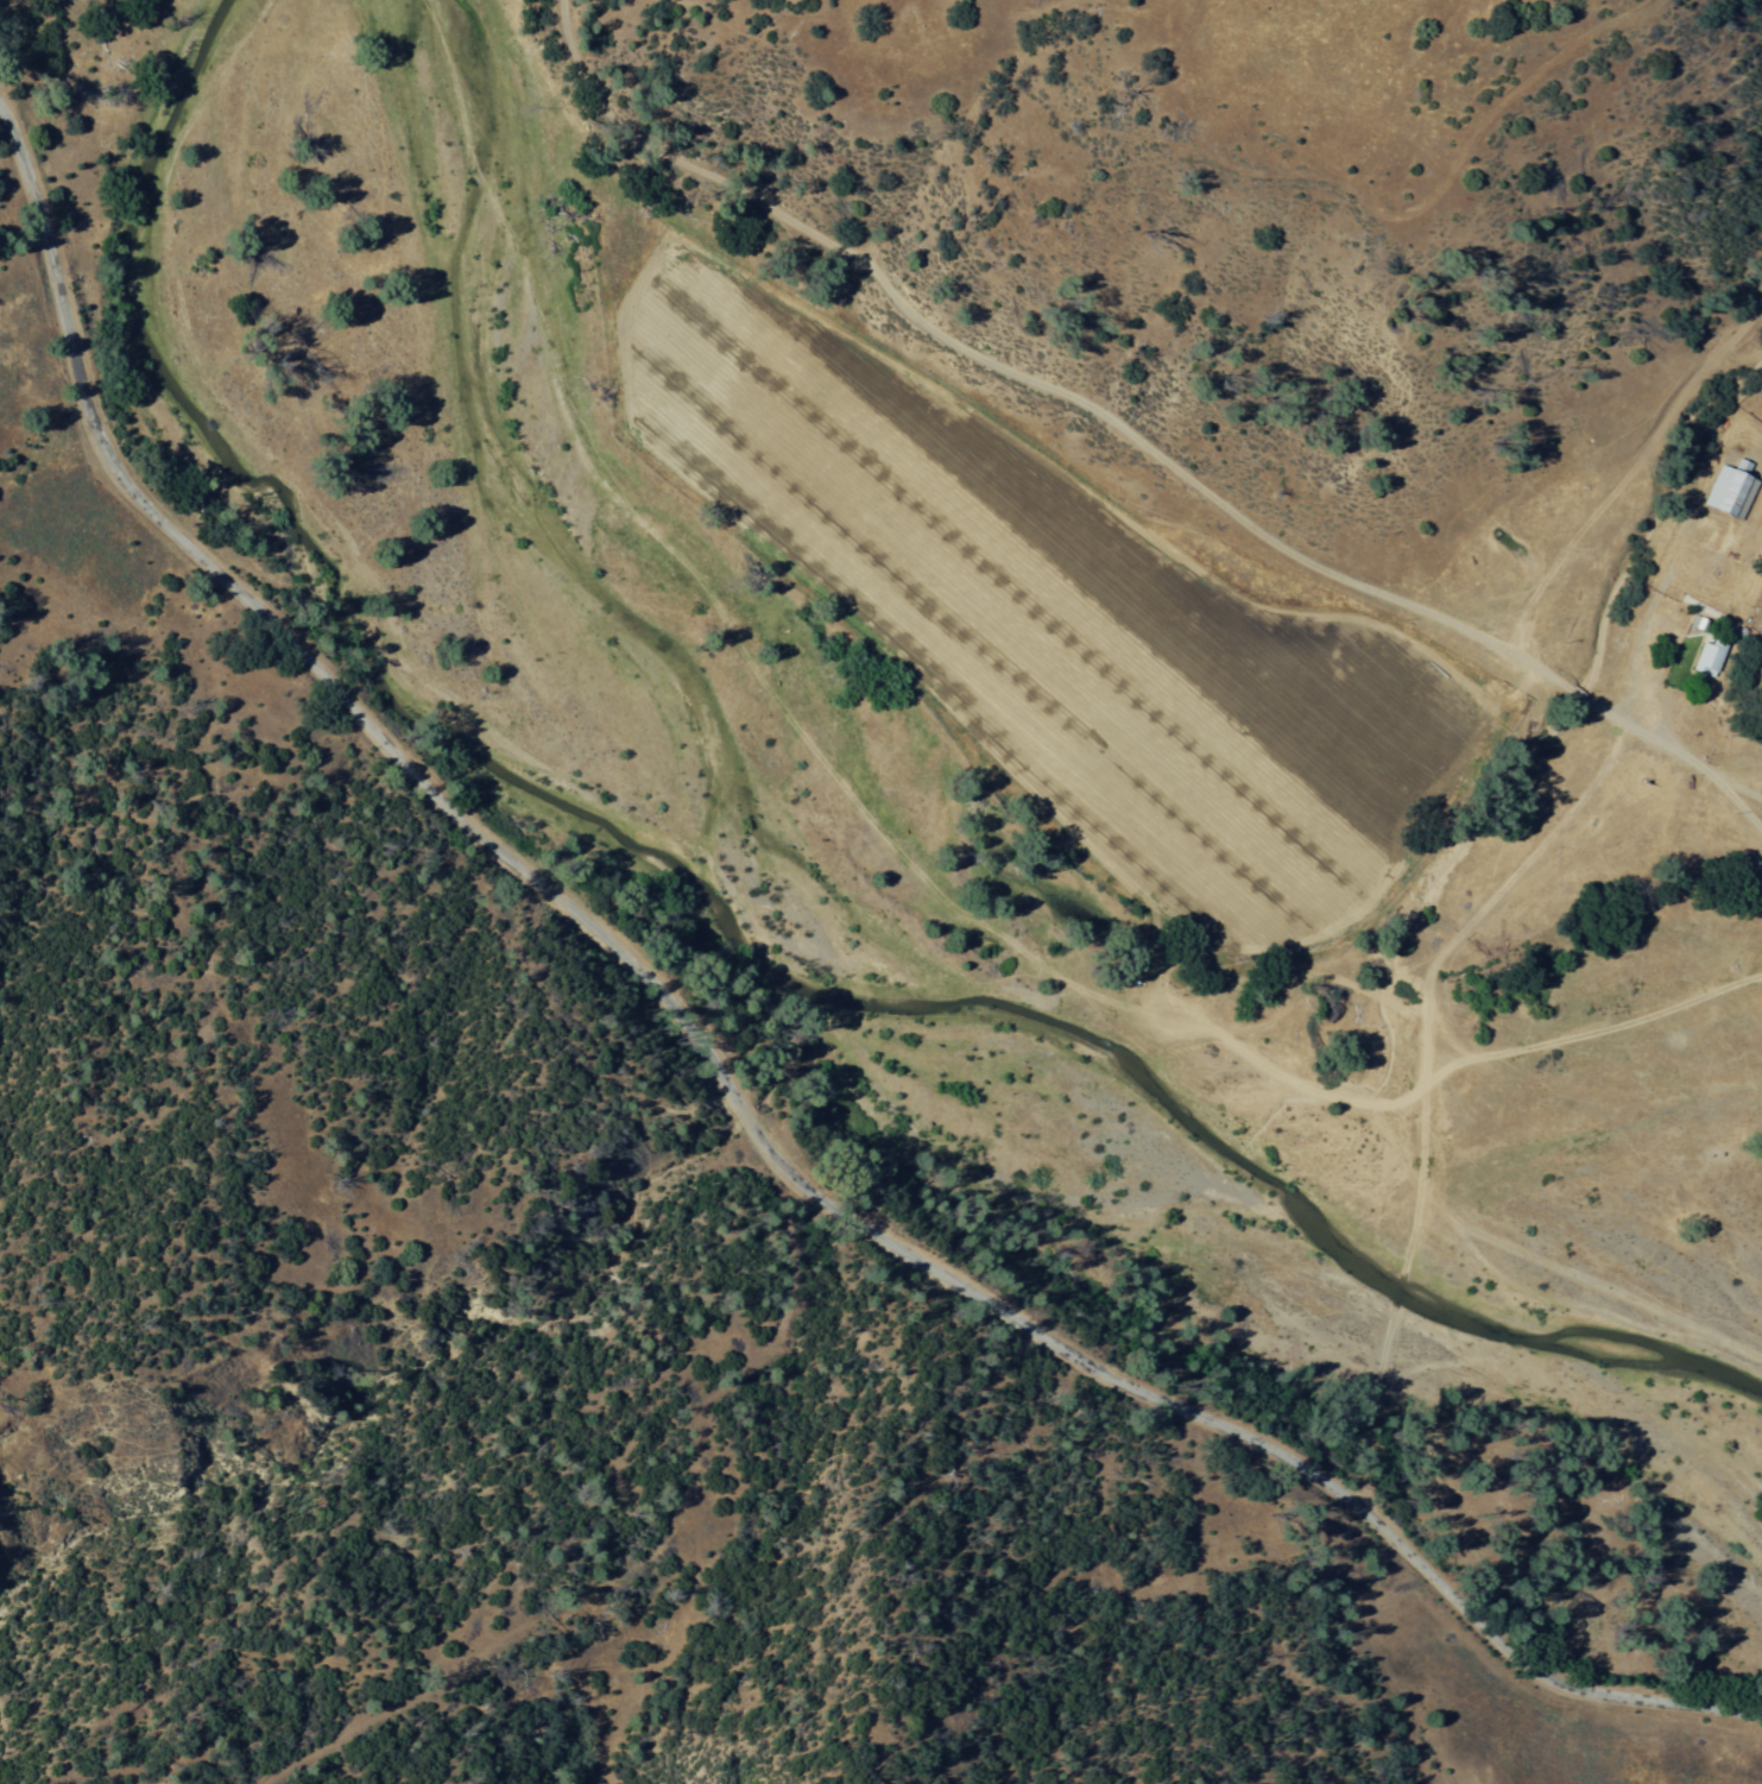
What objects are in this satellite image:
road: (1125, 431)
building: (1730, 494)
building: (1690, 618)
river: (350, 622)
crop: (1136, 655)
building: (1712, 660)
road: (726, 1083)
river: (1366, 1247)

